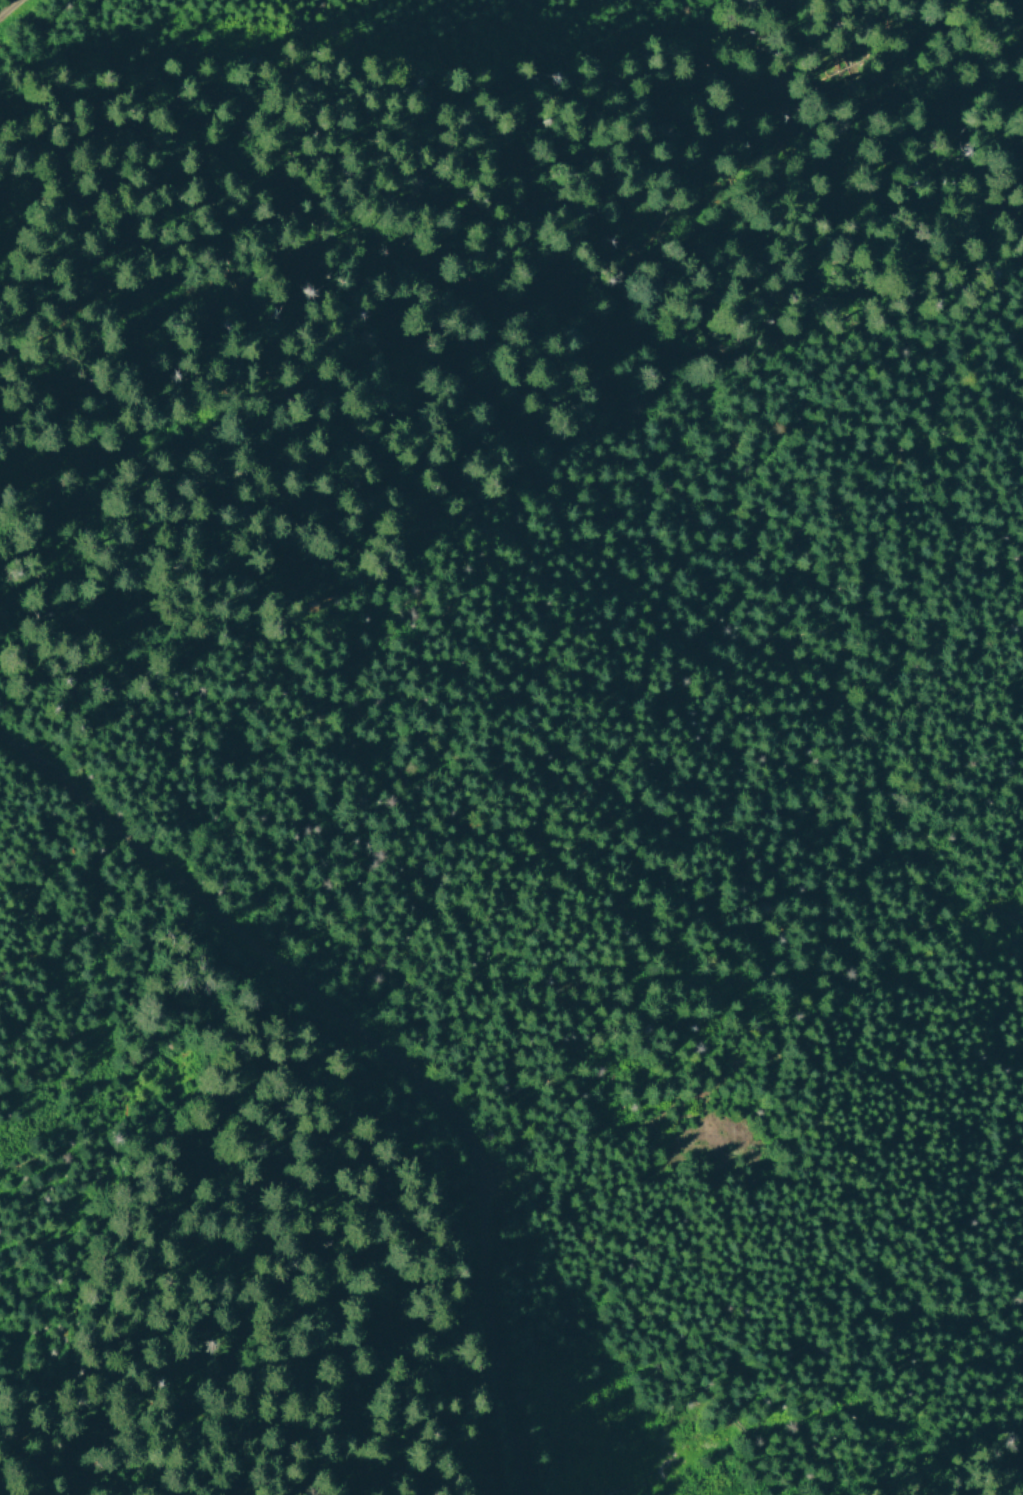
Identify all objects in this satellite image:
road: (7, 5)
road: (369, 1053)

